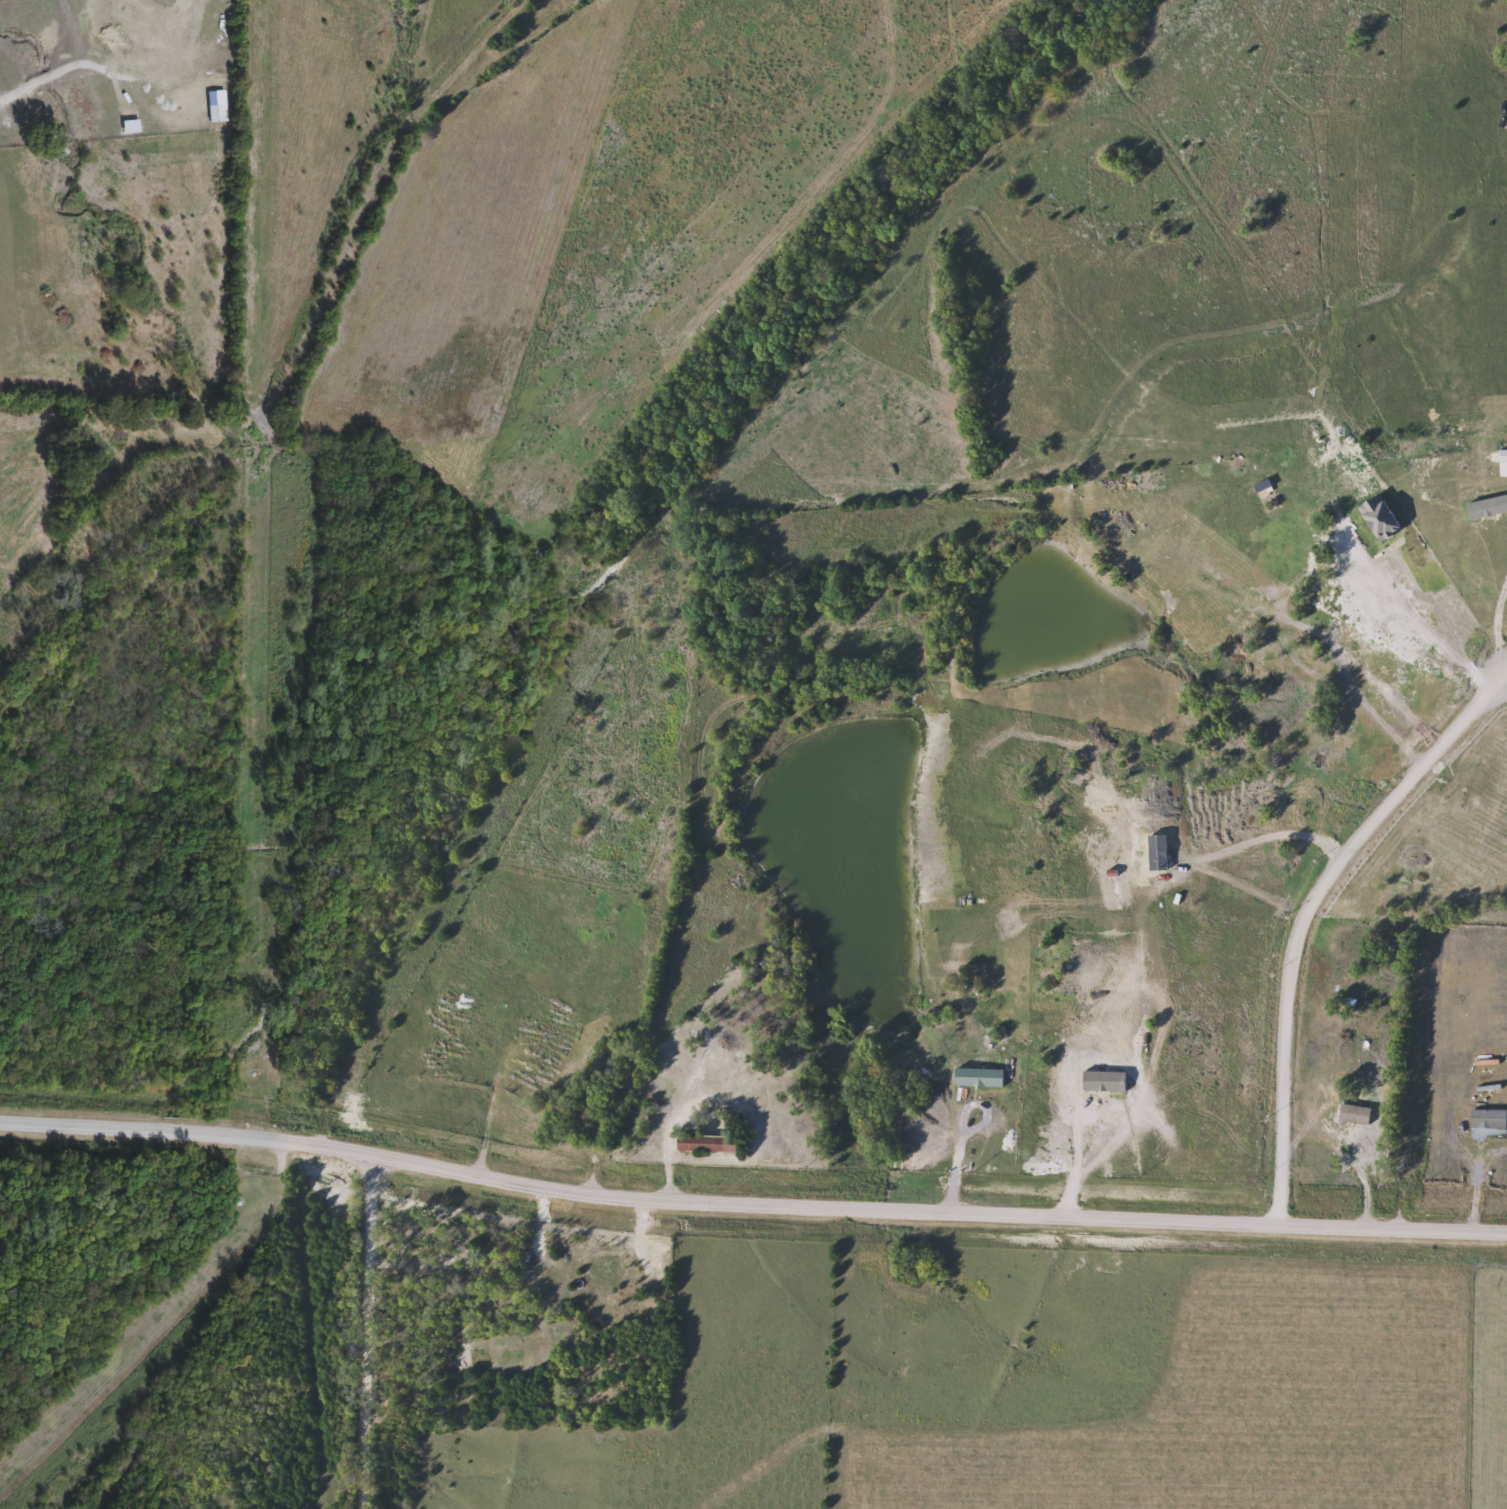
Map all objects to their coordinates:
road: (1305, 913)
road: (962, 1127)
road: (672, 1135)
building: (713, 1139)
road: (749, 1204)
road: (364, 1334)

